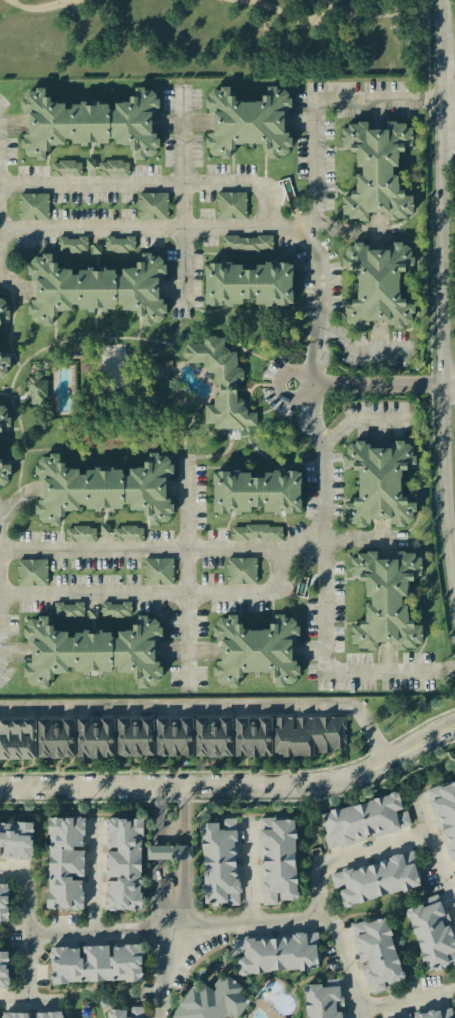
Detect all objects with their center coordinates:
road: (39, 9)
road: (285, 16)
road: (379, 16)
road: (438, 26)
park: (210, 40)
road: (439, 98)
road: (447, 116)
building: (248, 122)
building: (89, 123)
road: (447, 142)
building: (66, 168)
building: (113, 168)
building: (376, 170)
road: (150, 185)
road: (182, 201)
building: (152, 205)
building: (230, 205)
building: (33, 206)
road: (278, 226)
building: (119, 243)
building: (246, 243)
building: (72, 244)
road: (4, 271)
road: (12, 279)
building: (248, 283)
building: (377, 284)
building: (97, 289)
building: (3, 309)
road: (356, 349)
road: (441, 353)
building: (3, 365)
building: (221, 383)
road: (448, 385)
road: (330, 386)
building: (36, 391)
building: (4, 418)
road: (361, 419)
building: (4, 472)
building: (379, 484)
building: (103, 488)
building: (256, 492)
road: (15, 503)
road: (323, 505)
road: (2, 513)
building: (256, 532)
building: (80, 533)
building: (127, 533)
road: (362, 542)
road: (162, 546)
building: (241, 570)
building: (158, 571)
building: (31, 572)
road: (188, 574)
road: (161, 593)
building: (385, 600)
building: (115, 609)
building: (68, 610)
building: (255, 650)
building: (92, 651)
road: (188, 709)
building: (308, 735)
building: (134, 737)
building: (174, 737)
building: (213, 737)
building: (252, 737)
building: (17, 738)
building: (76, 738)
road: (419, 740)
road: (376, 742)
road: (196, 790)
road: (159, 817)
road: (186, 817)
road: (158, 852)
road: (187, 852)
road: (434, 852)
road: (94, 877)
road: (249, 878)
building: (231, 902)
road: (246, 925)
road: (170, 930)
road: (24, 932)
road: (345, 960)
road: (163, 974)
road: (406, 1001)

